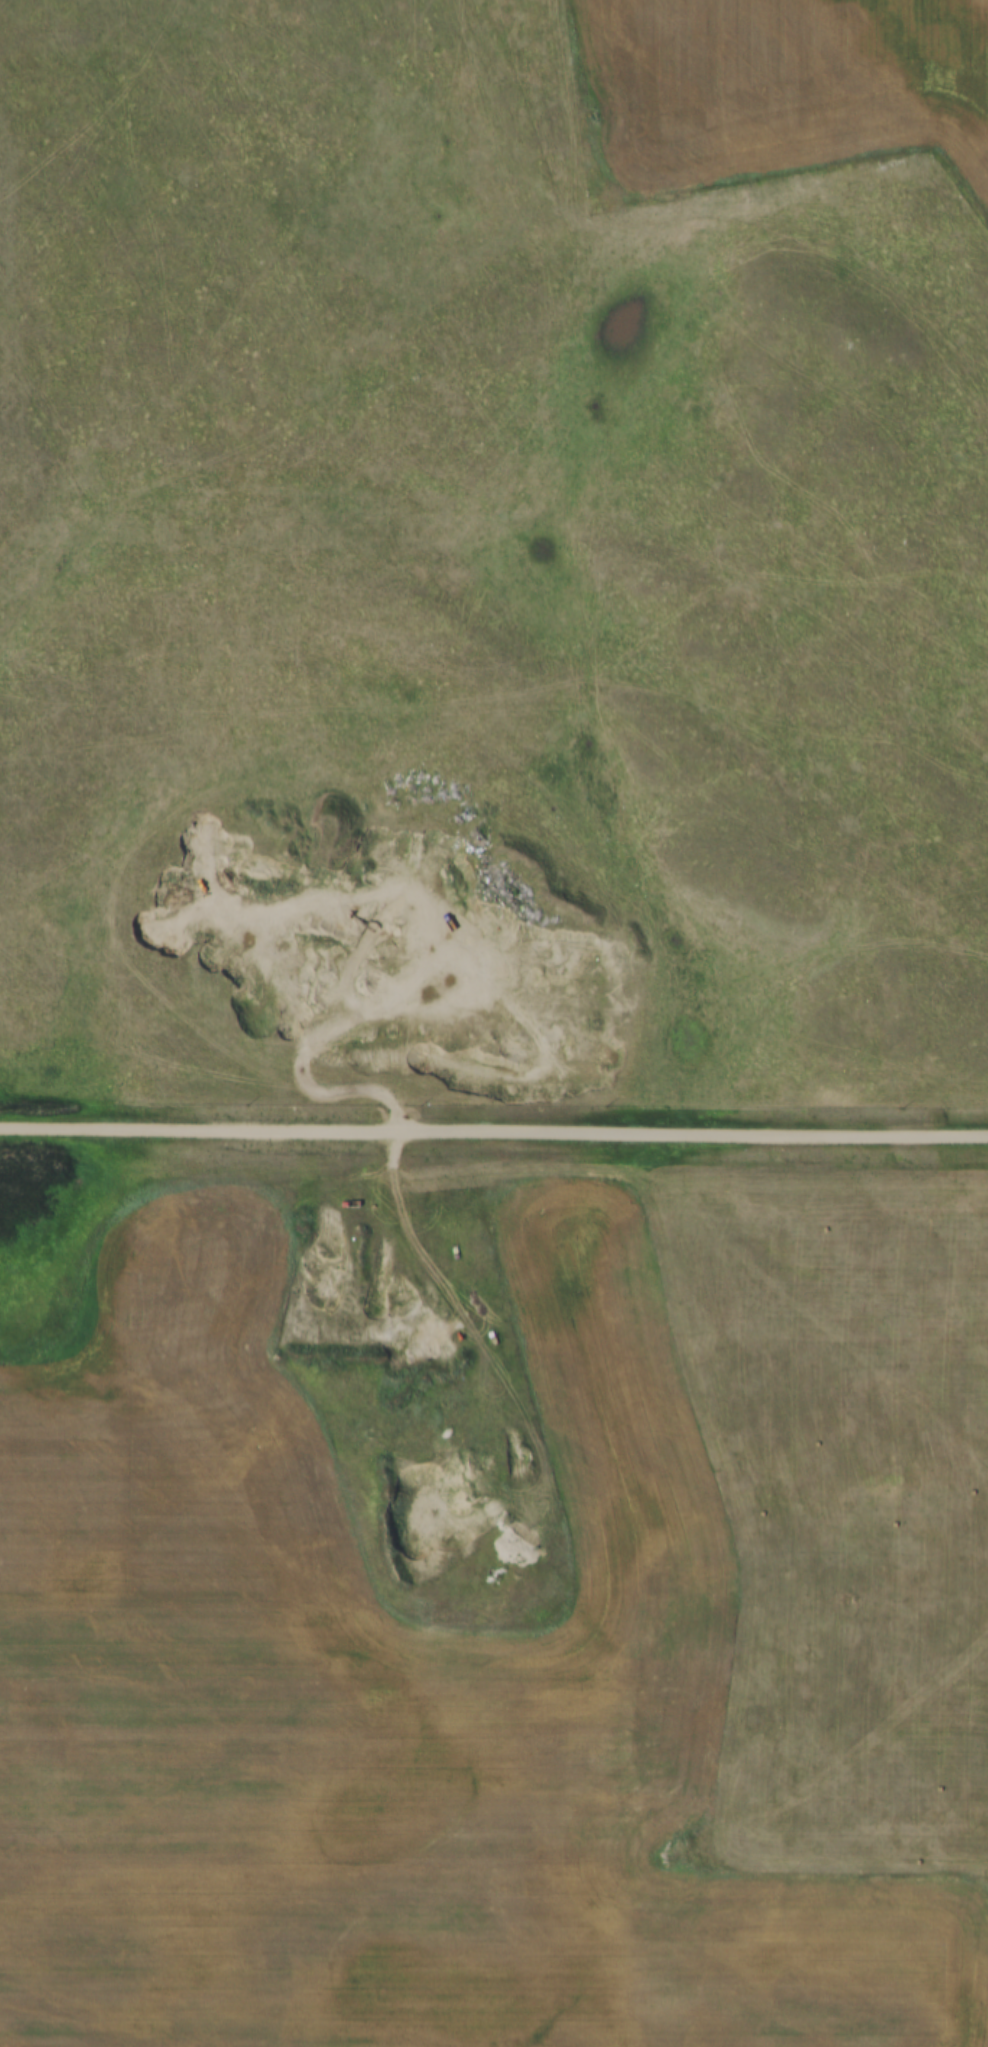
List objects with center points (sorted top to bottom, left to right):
quarry: (394, 953)
road: (493, 1132)
quarry: (428, 1409)

